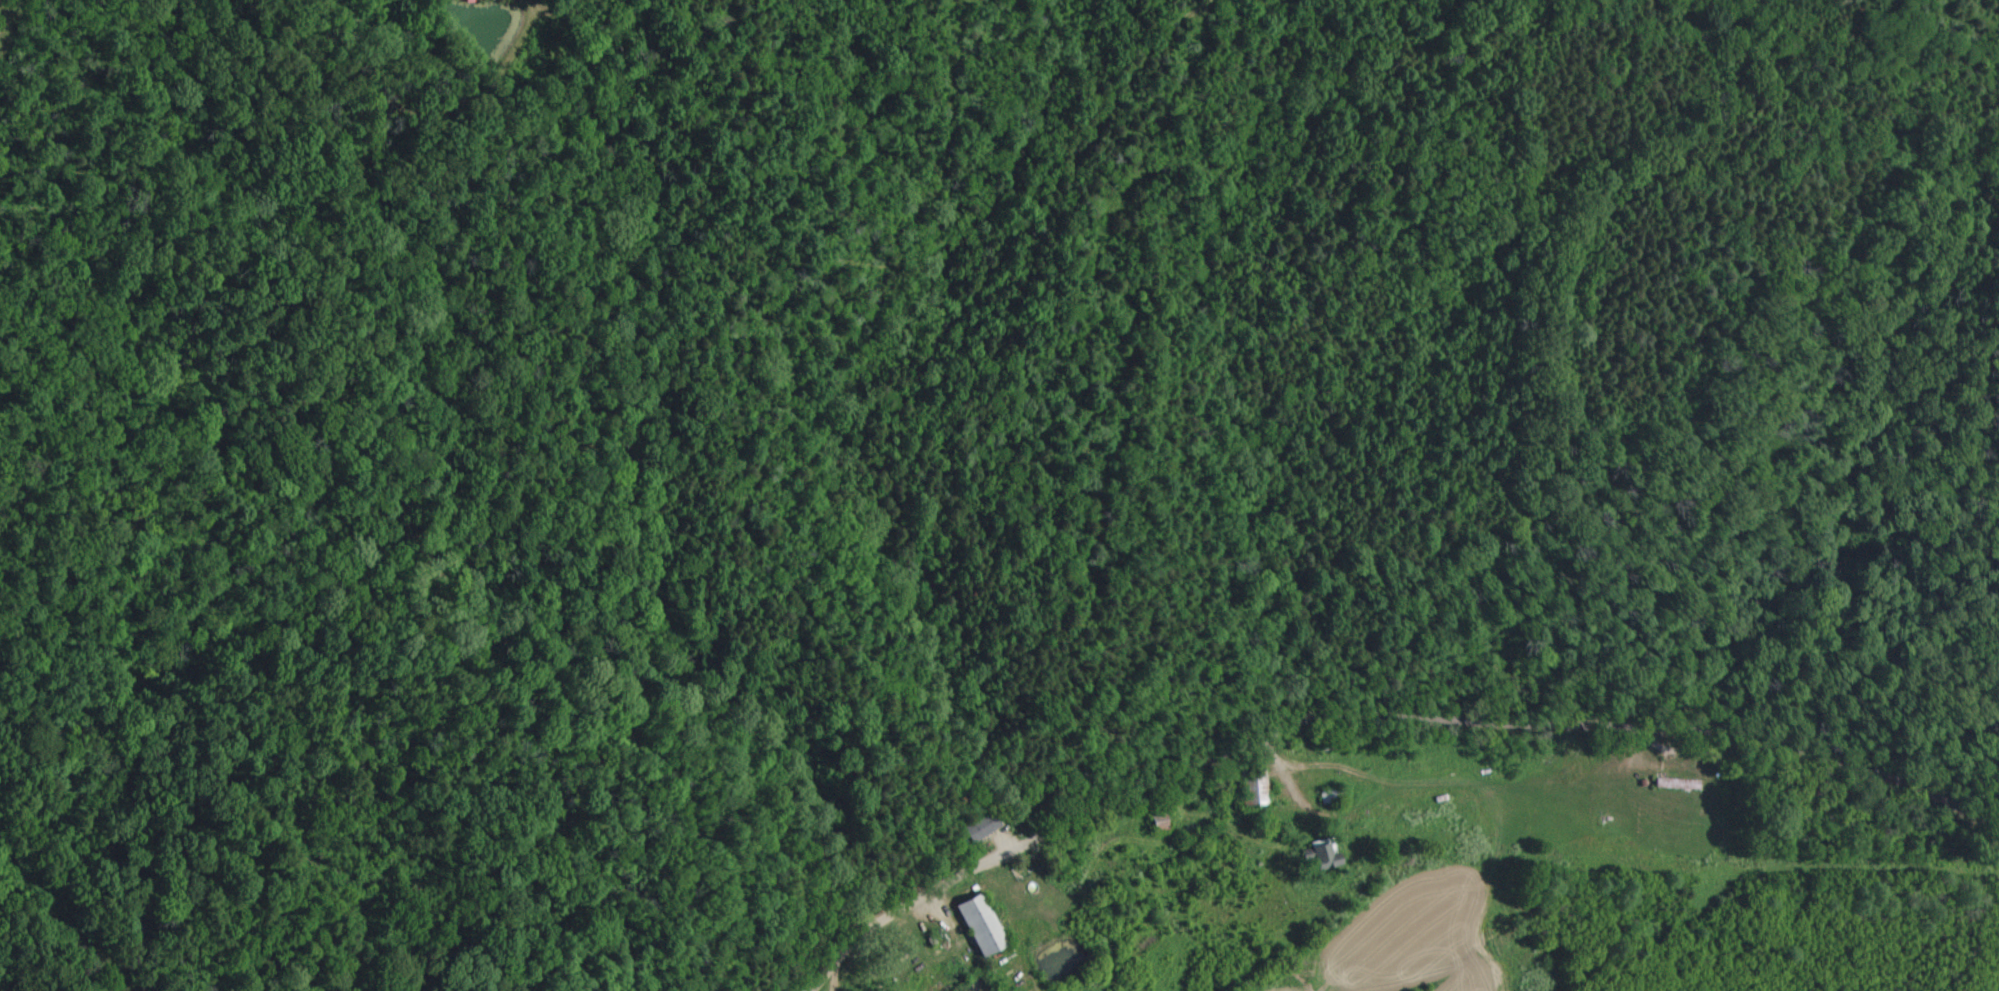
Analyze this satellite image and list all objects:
road: (1374, 715)
building: (980, 829)
building: (974, 926)
crop: (1414, 939)

